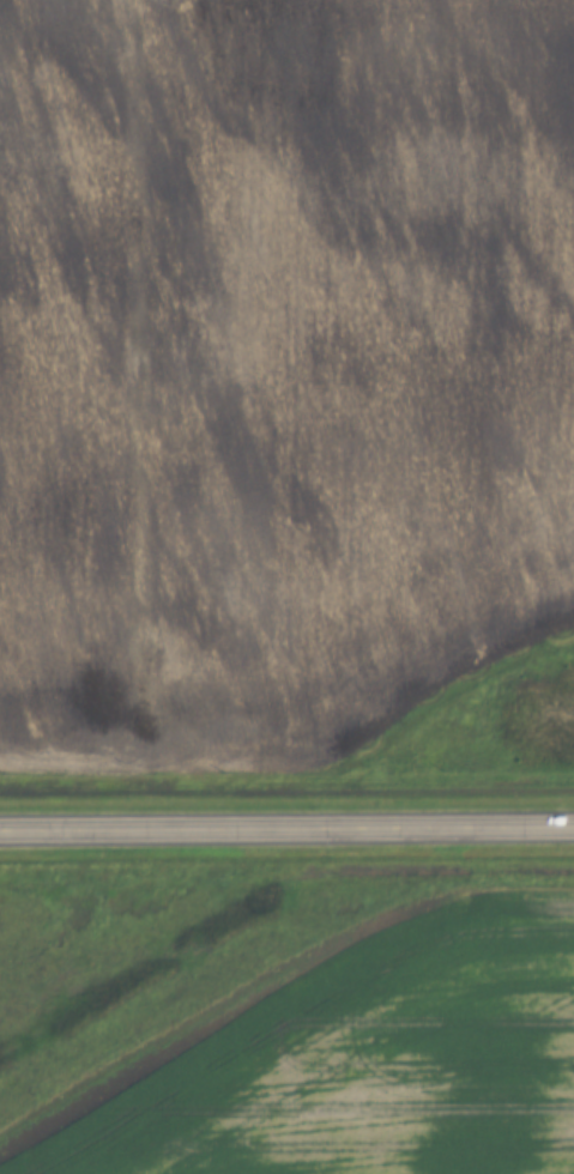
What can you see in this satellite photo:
crop: (277, 369)
road: (286, 831)
crop: (8, 915)
crop: (356, 1061)

